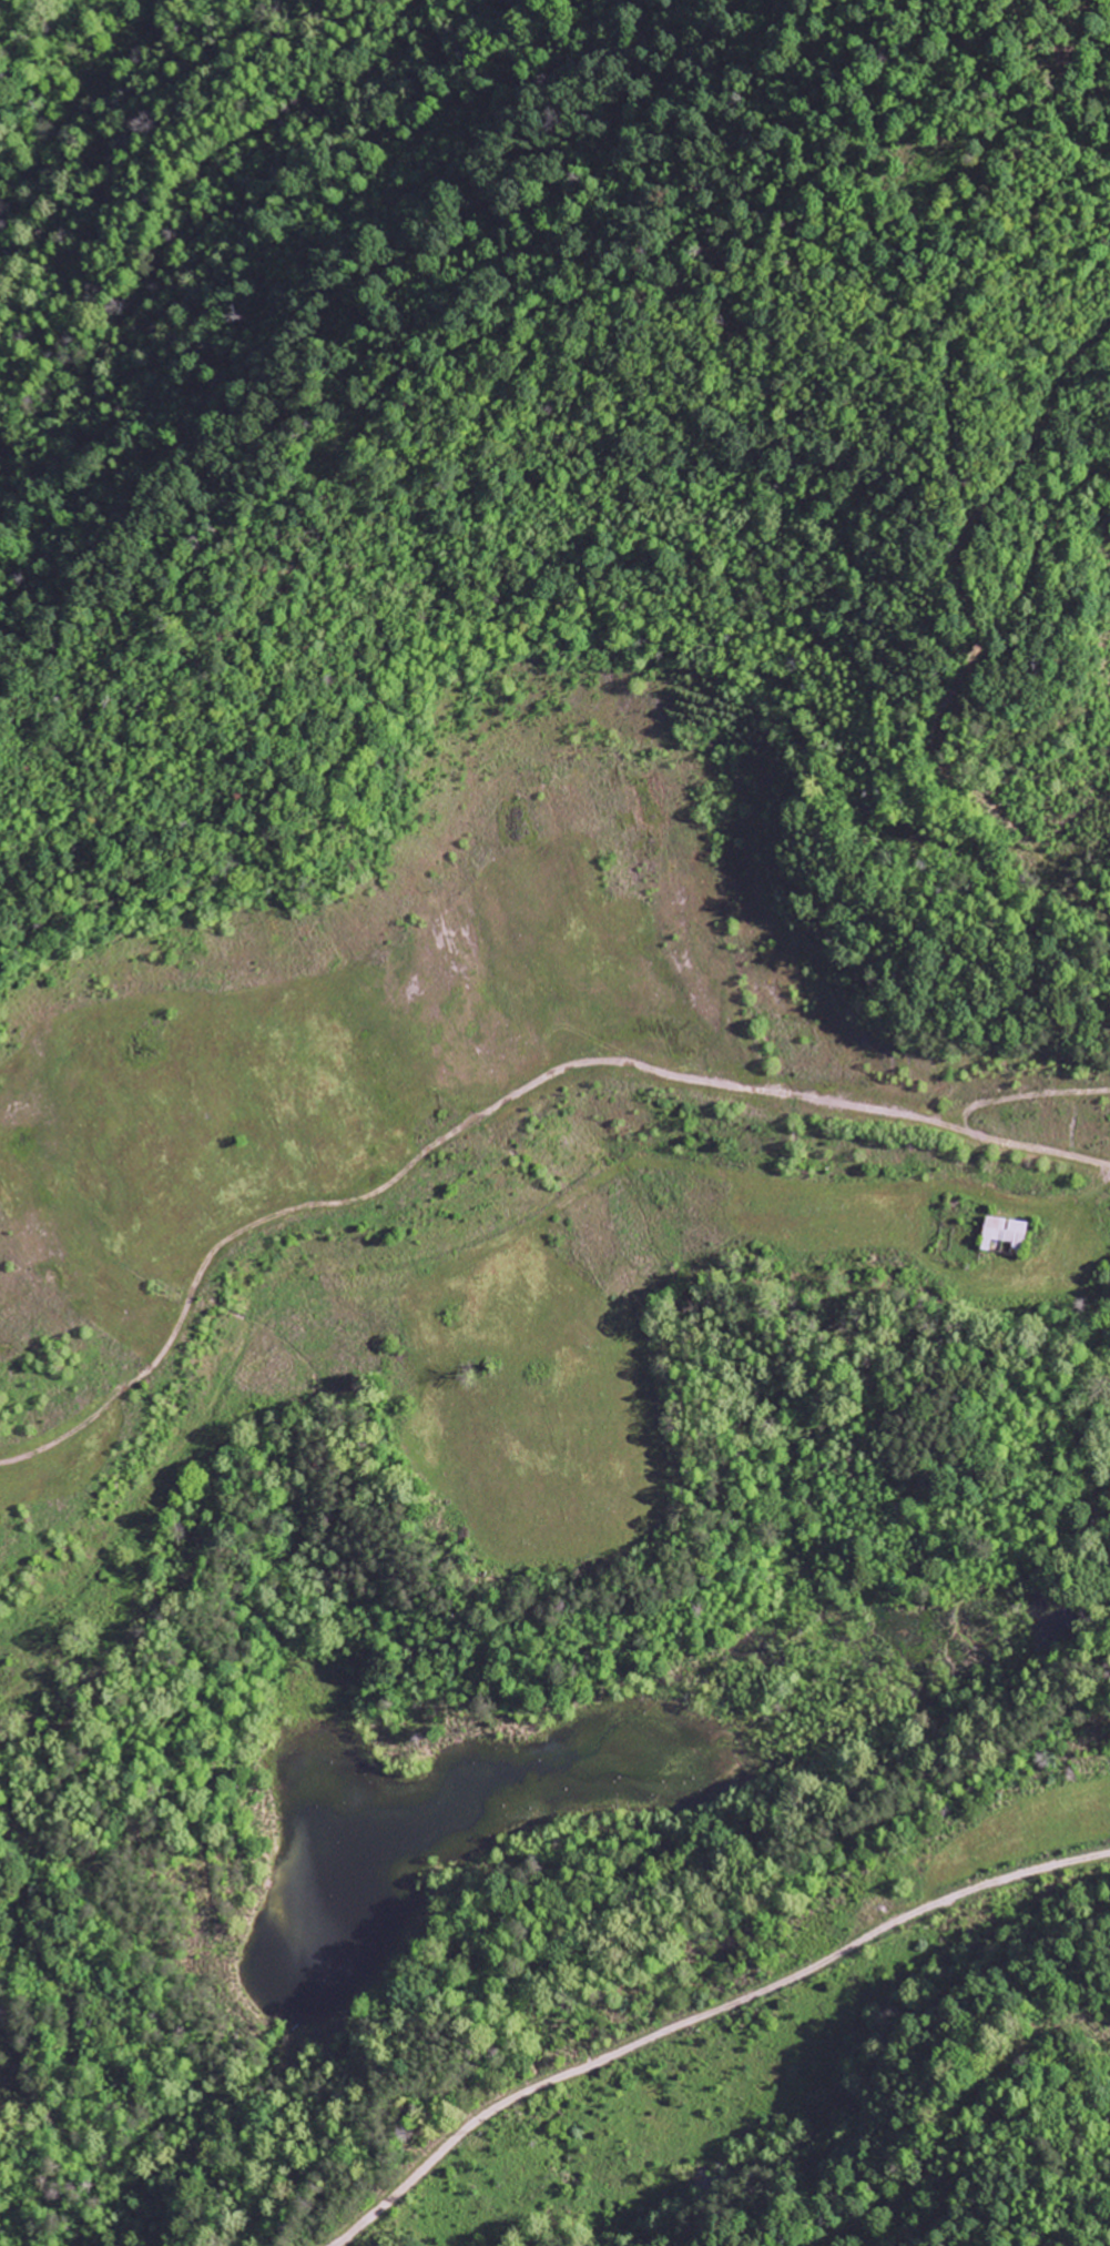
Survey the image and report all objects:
building: (1007, 1233)

